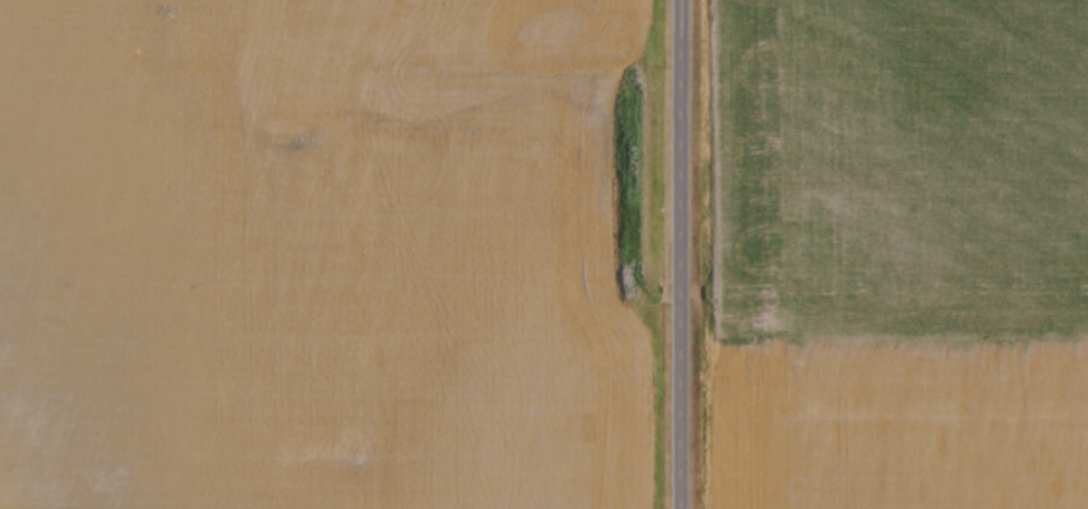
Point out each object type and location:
road: (682, 254)

